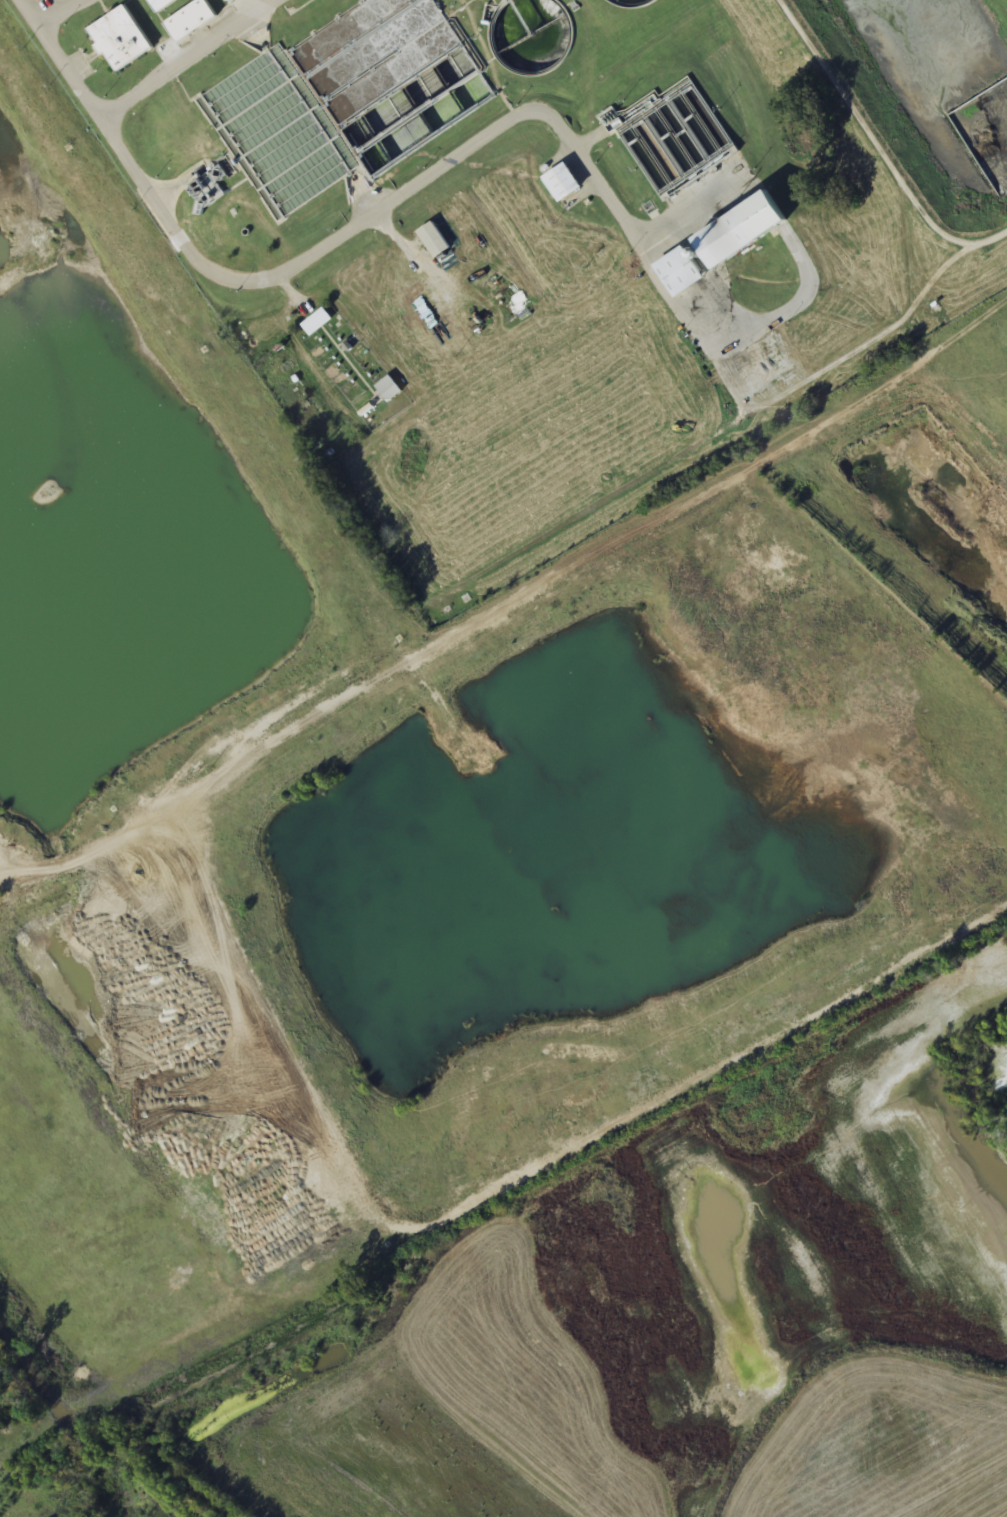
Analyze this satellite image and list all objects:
building: (225, 0)
building: (633, 3)
building: (160, 4)
building: (189, 20)
building: (529, 36)
building: (119, 39)
road: (134, 107)
building: (385, 124)
building: (673, 136)
building: (562, 183)
building: (740, 231)
building: (433, 240)
wastewater plant: (513, 241)
building: (679, 272)
building: (317, 322)

